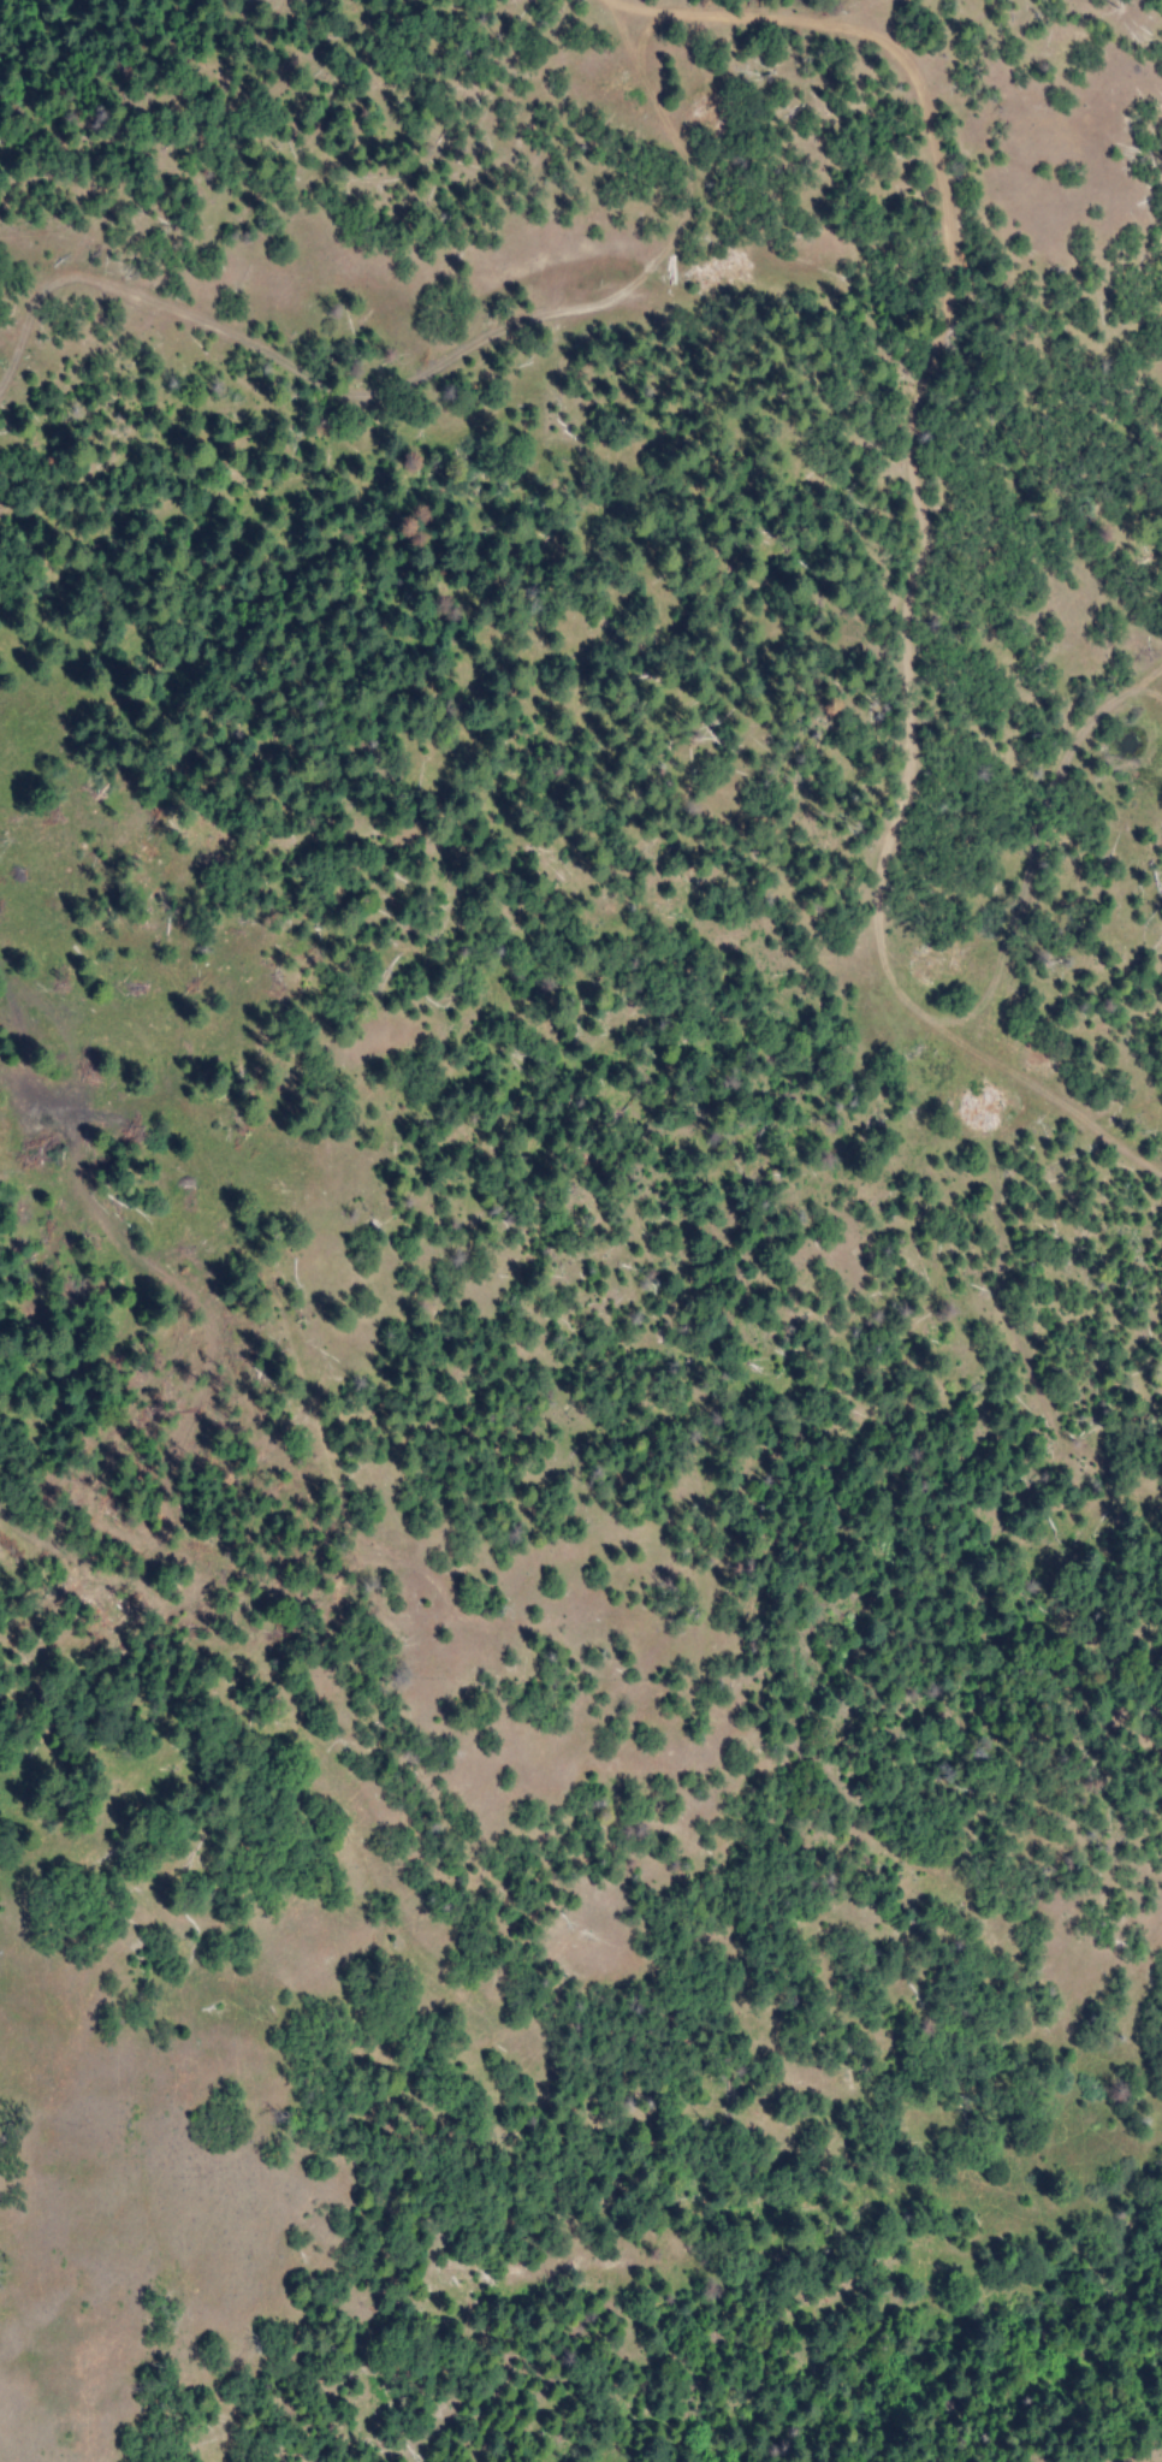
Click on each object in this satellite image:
road: (1122, 2445)

